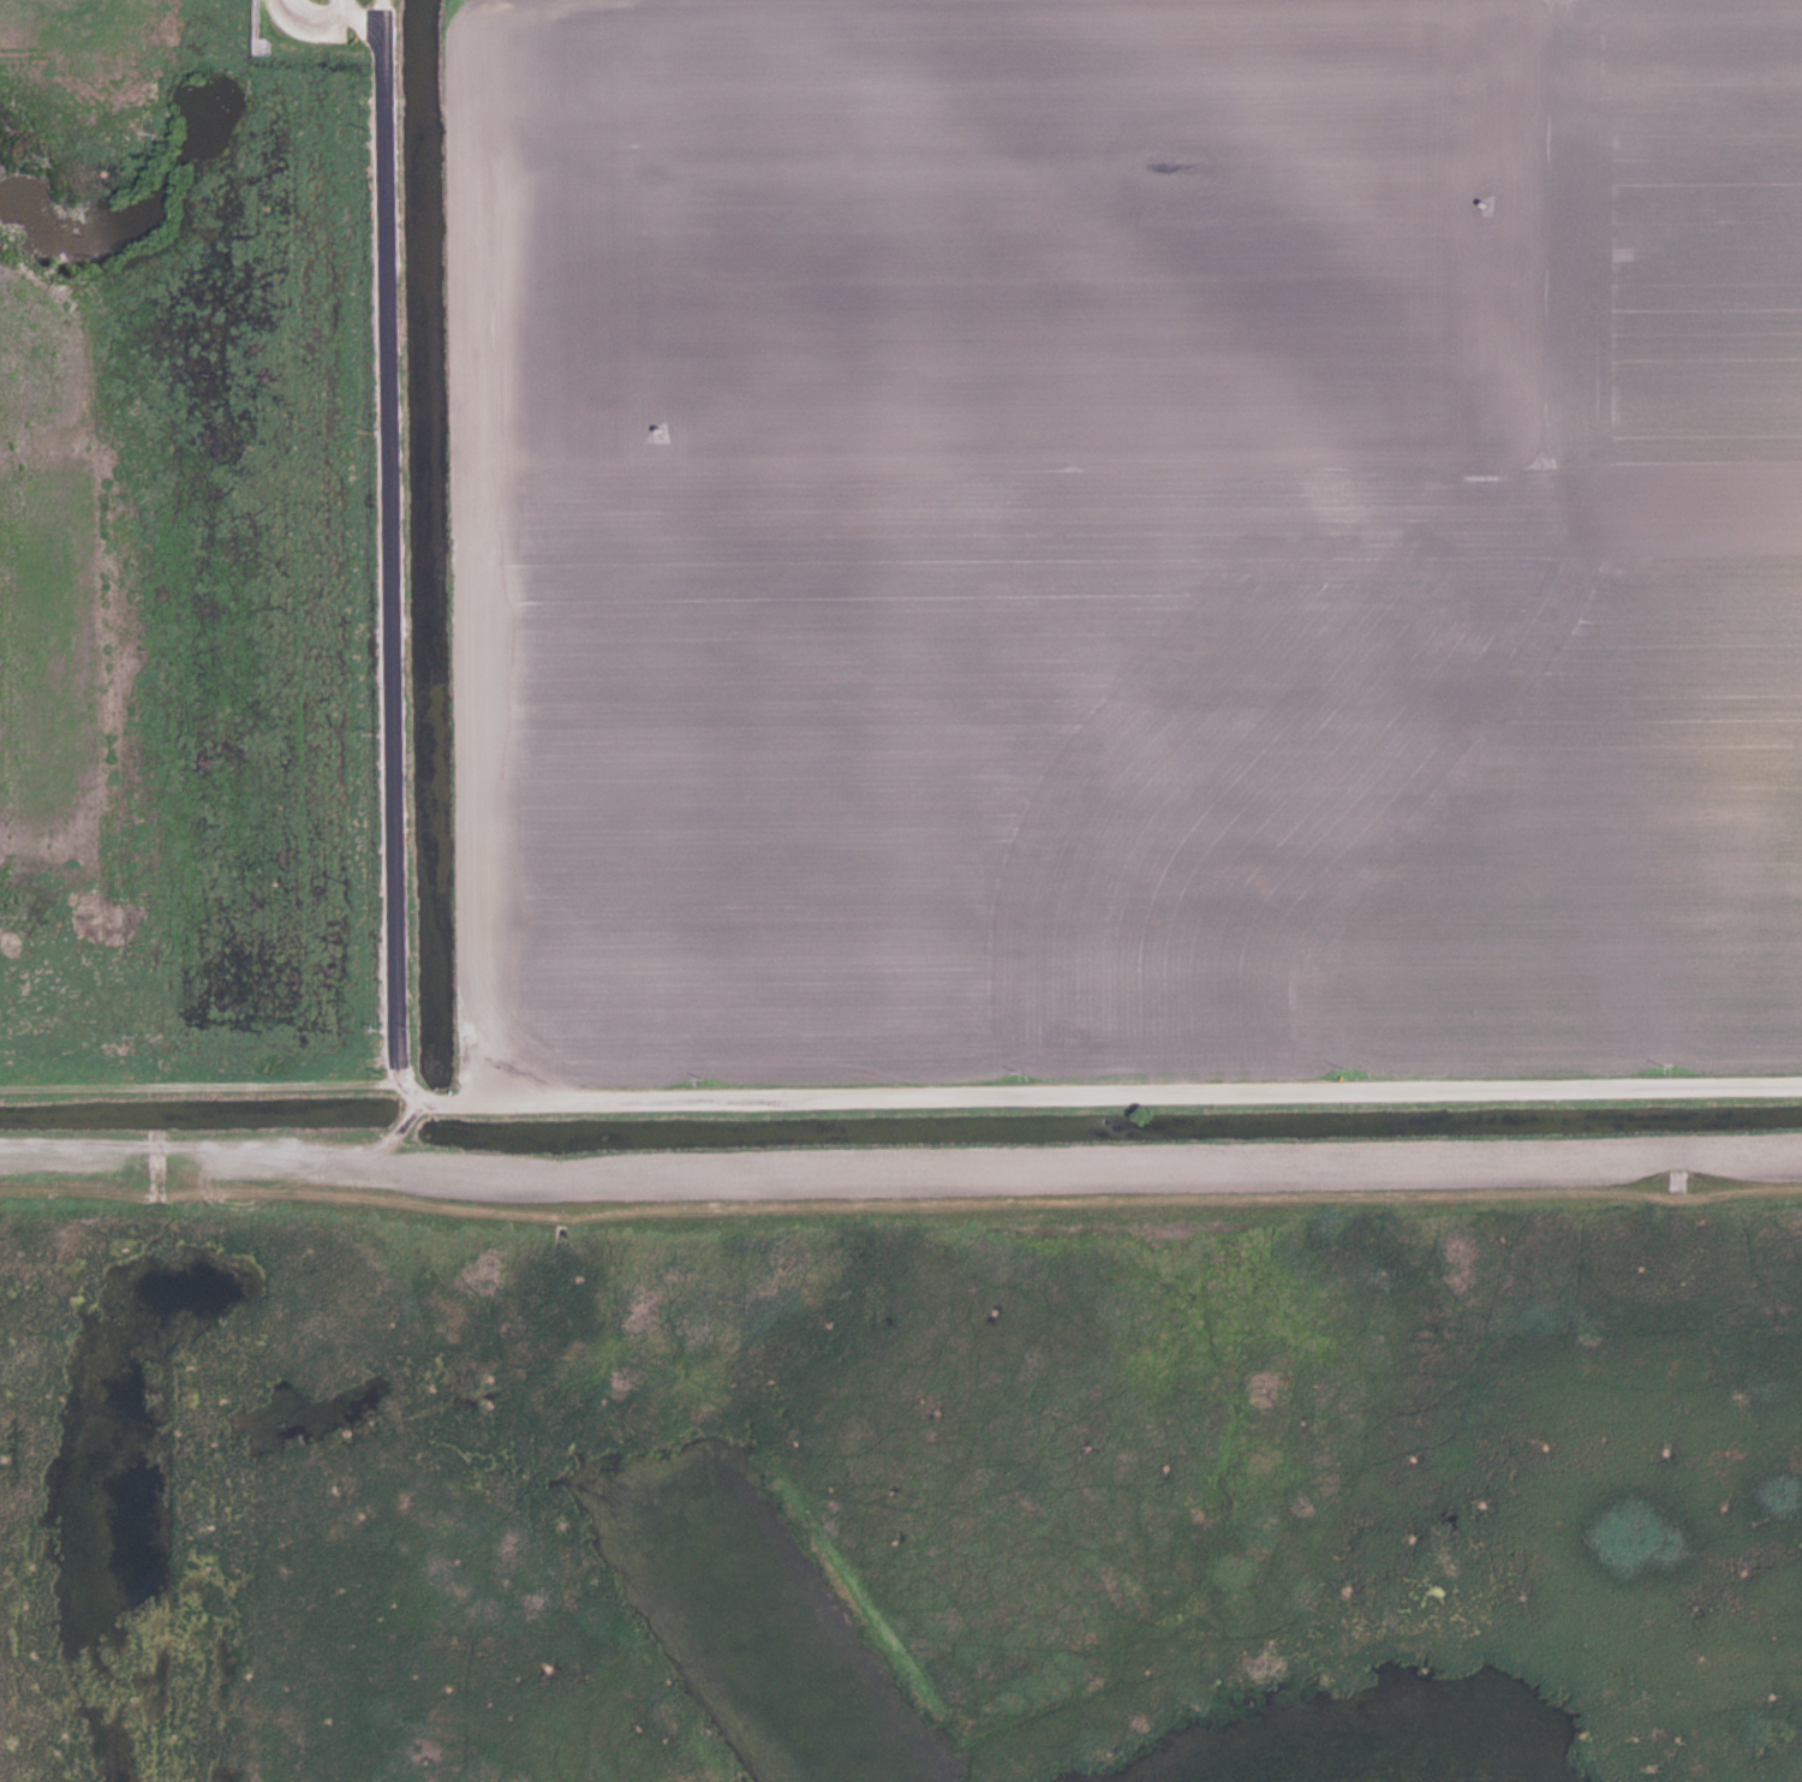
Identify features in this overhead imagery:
building: (259, 46)
road: (389, 555)
road: (201, 1086)
road: (1111, 1095)
road: (221, 1143)

